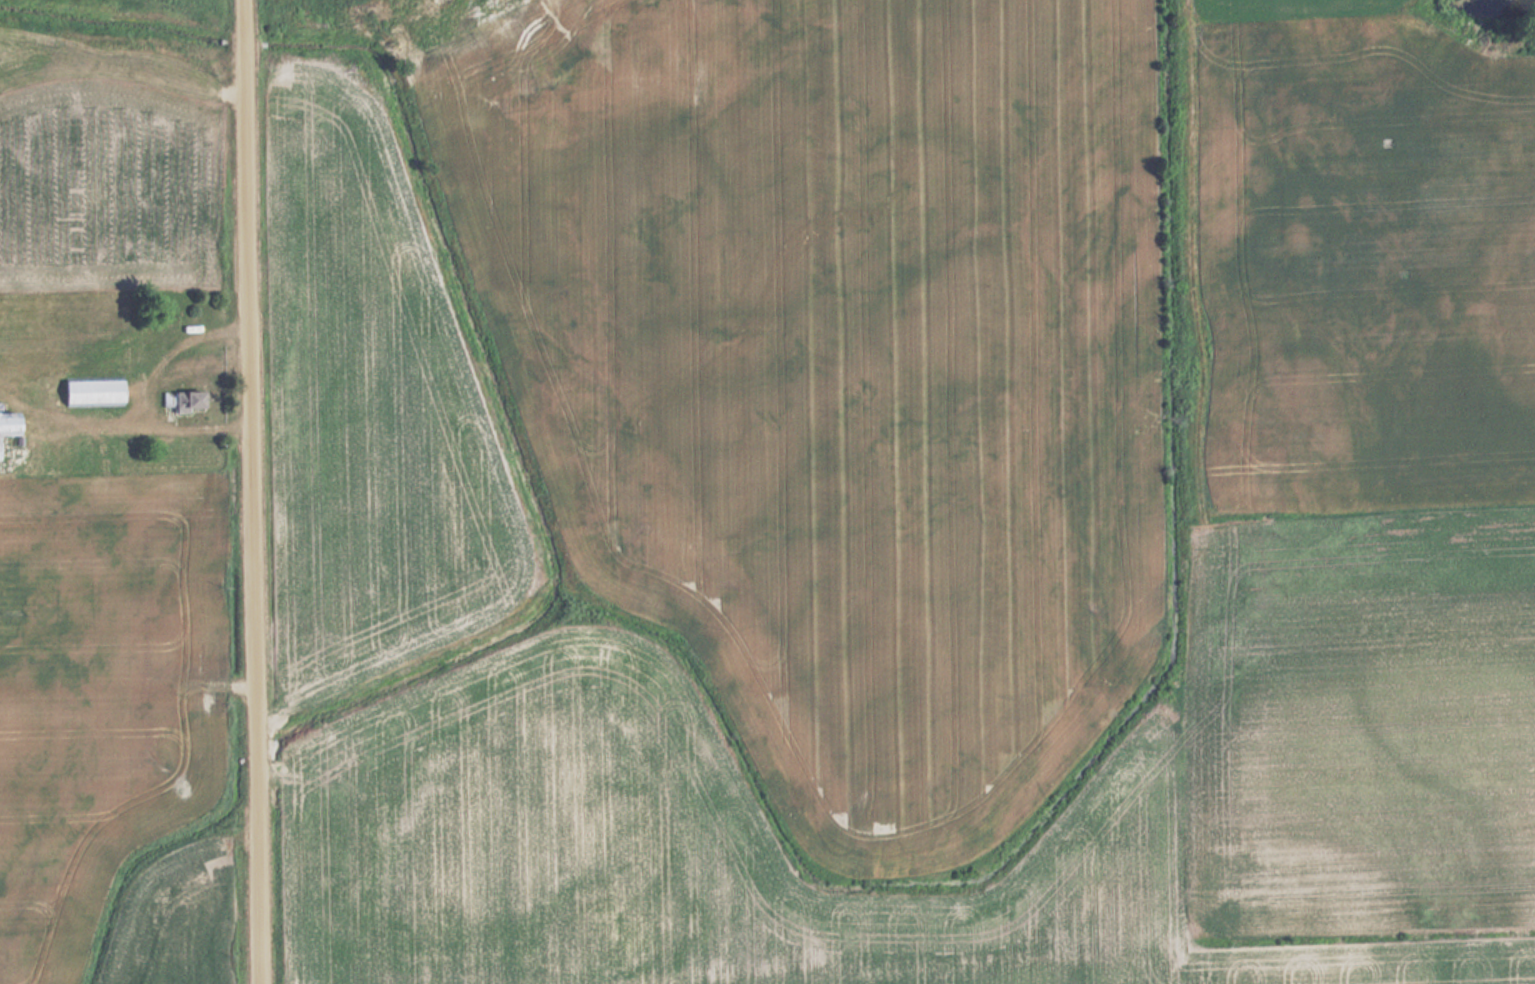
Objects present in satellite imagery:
building: (90, 391)
building: (182, 401)
building: (4, 424)
road: (249, 491)

